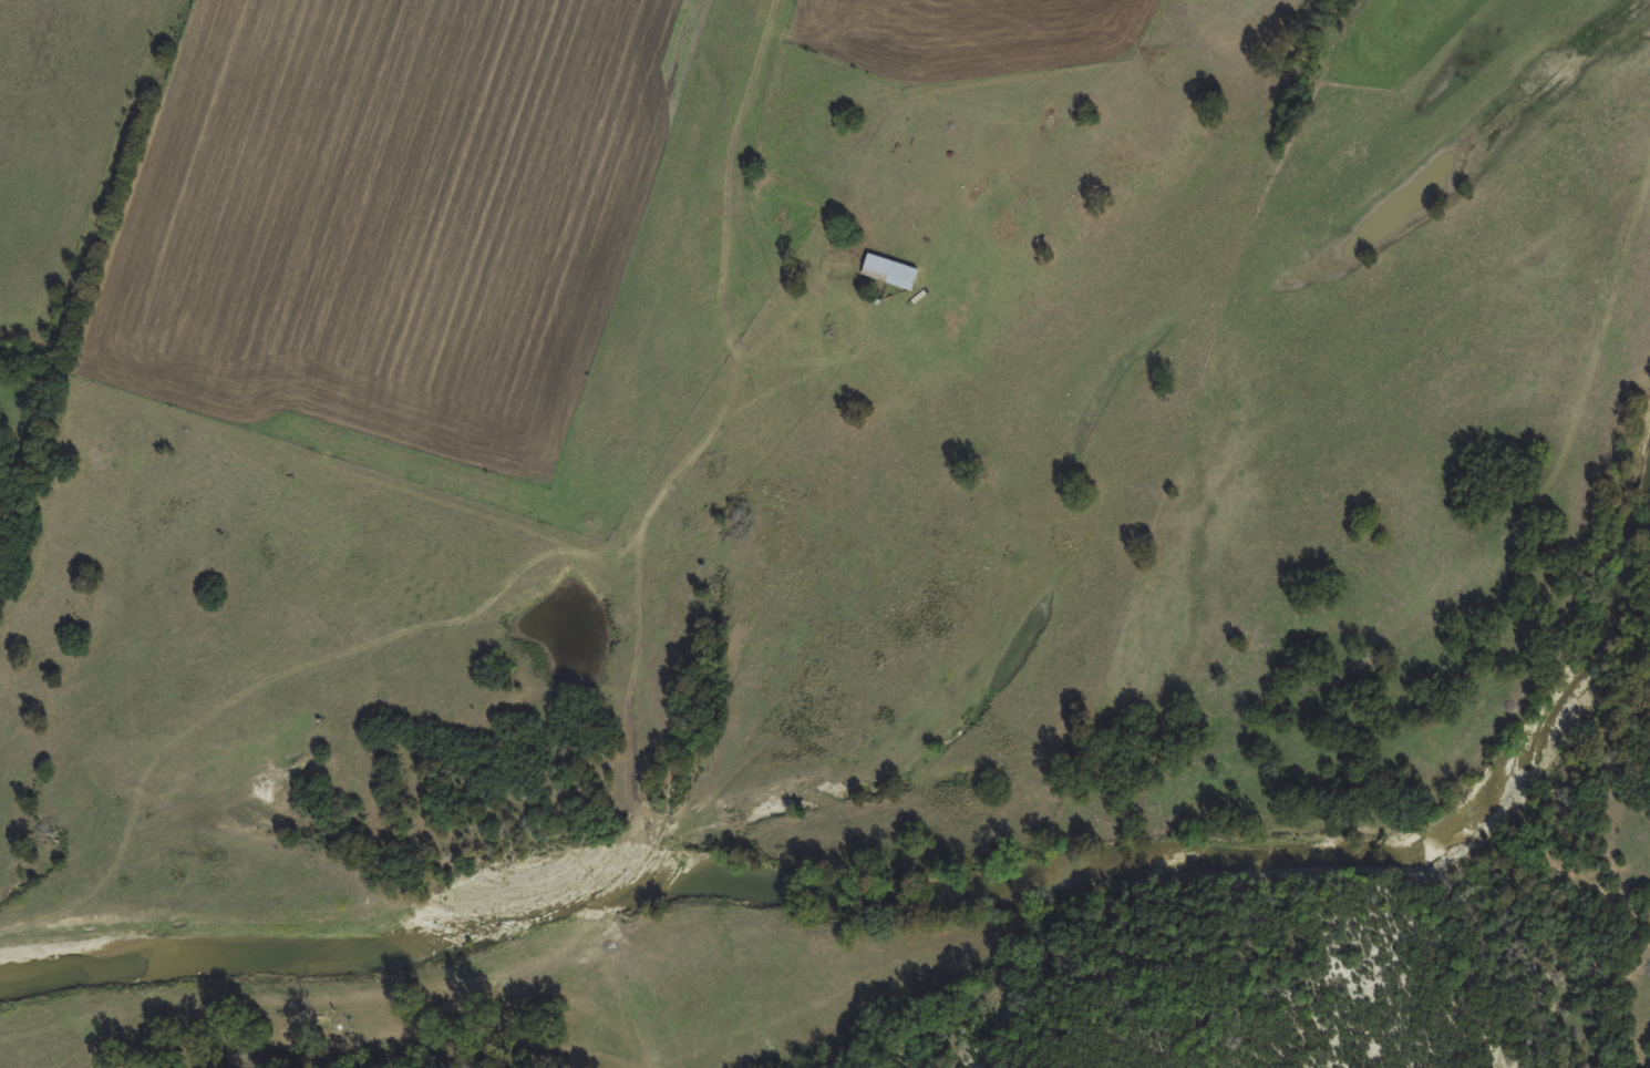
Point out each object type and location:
building: (889, 270)

